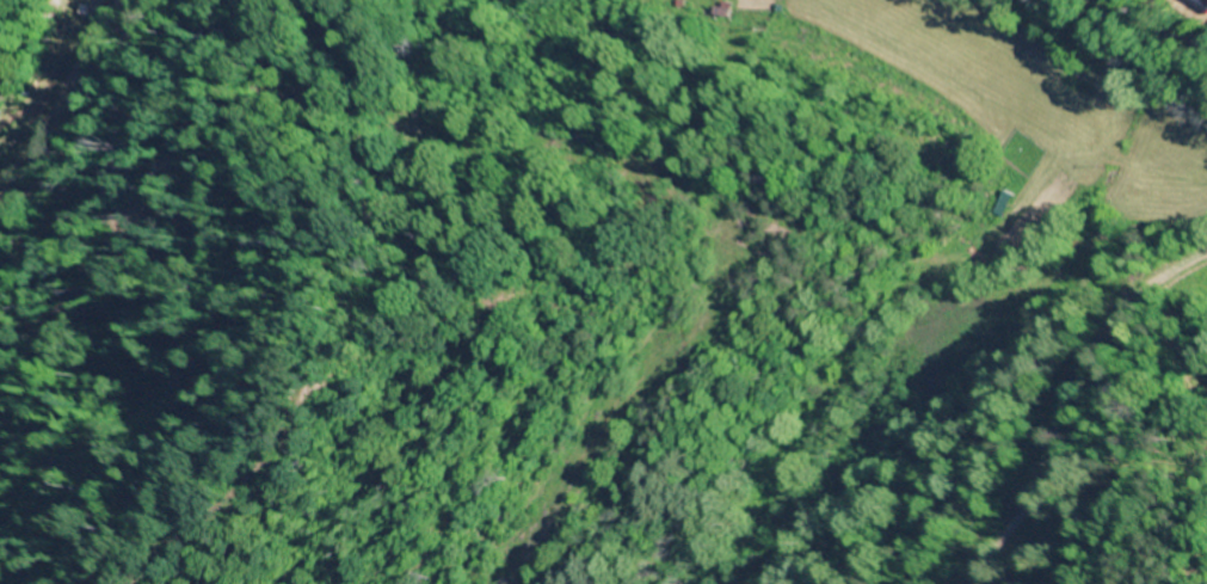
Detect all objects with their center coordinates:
building: (1195, 8)
road: (1151, 27)

